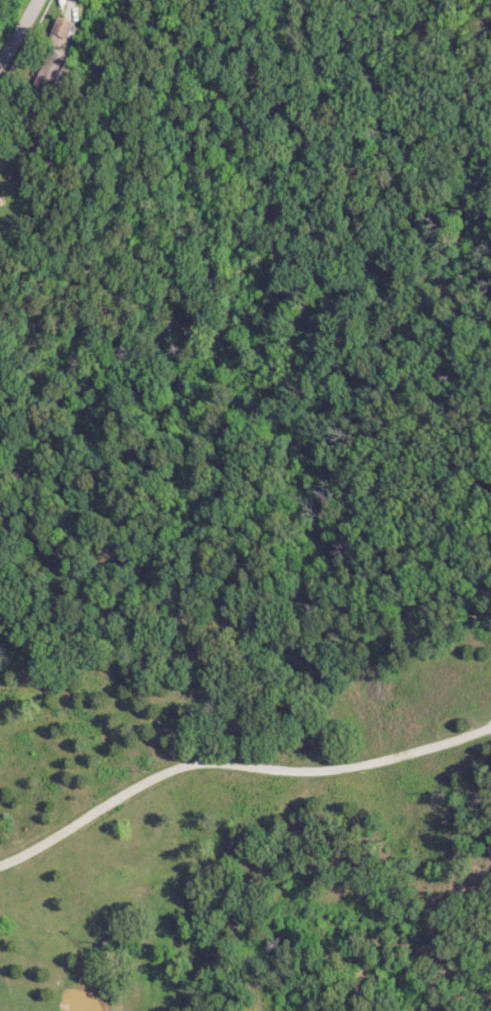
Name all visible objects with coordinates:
road: (8, 14)
building: (58, 68)
road: (235, 764)

